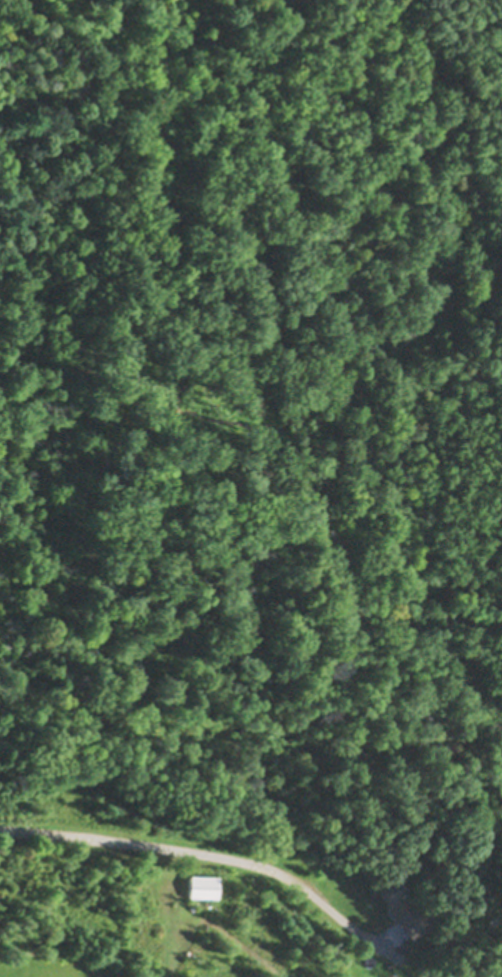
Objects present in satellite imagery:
road: (205, 851)
building: (204, 884)
building: (401, 902)

